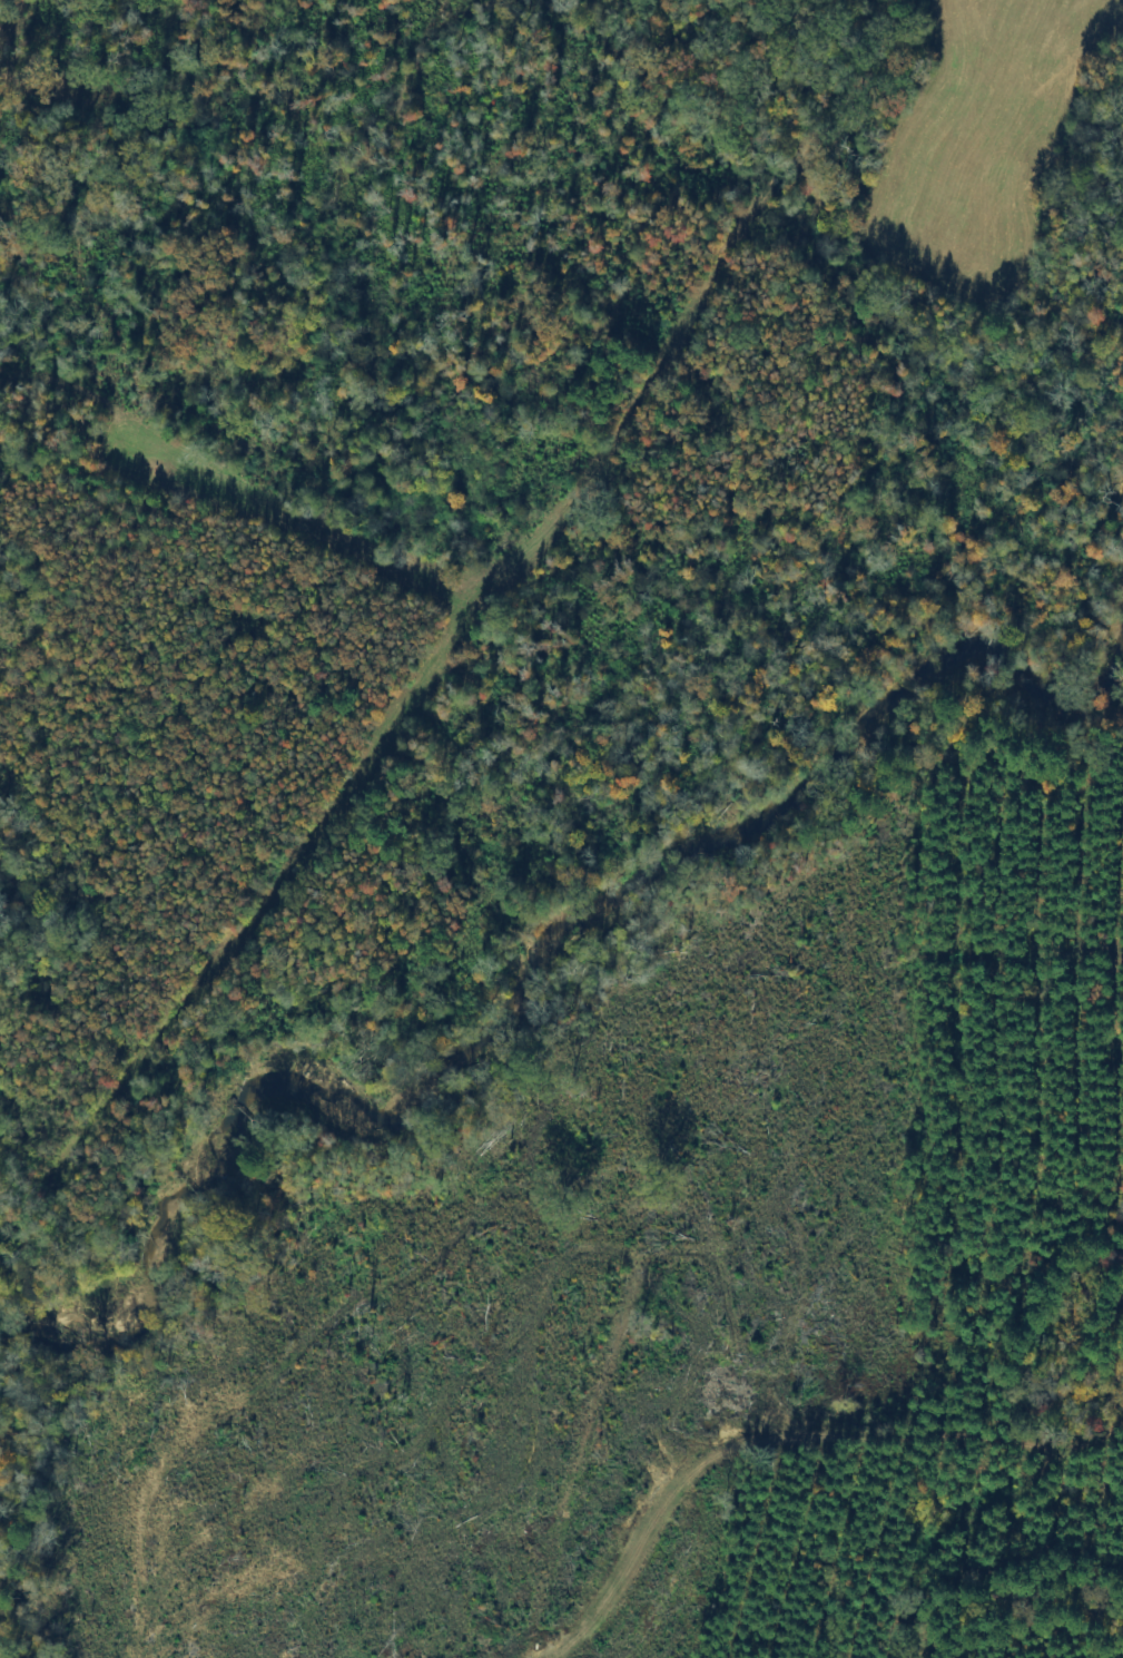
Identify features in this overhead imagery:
road: (1005, 1433)

